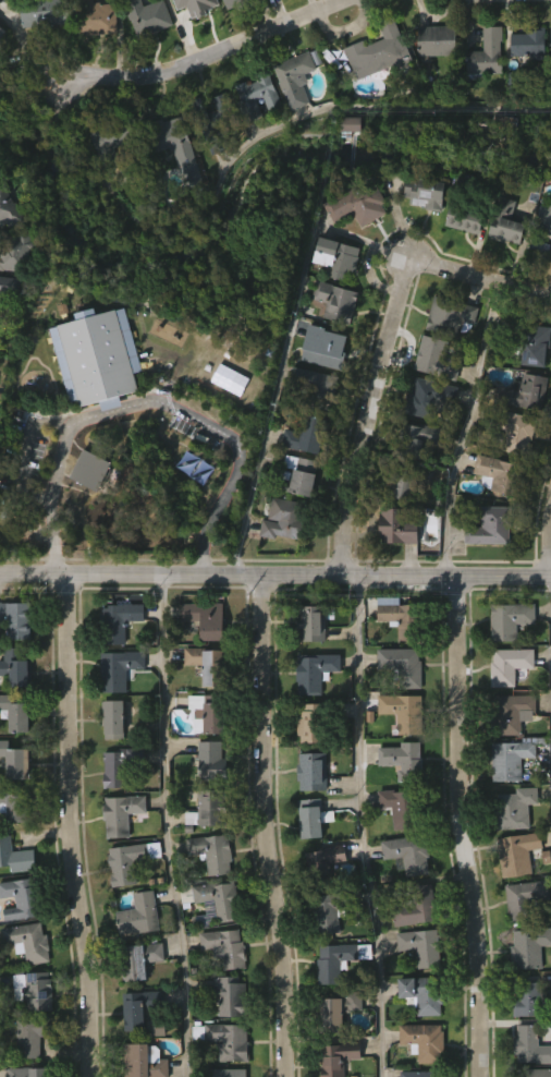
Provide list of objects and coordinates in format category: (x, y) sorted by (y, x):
building: (237, 2)
building: (305, 3)
building: (267, 11)
building: (44, 13)
building: (149, 16)
building: (98, 17)
building: (230, 25)
building: (184, 27)
building: (0, 33)
building: (439, 40)
building: (531, 44)
building: (36, 48)
building: (140, 49)
building: (379, 50)
building: (93, 52)
road: (212, 52)
building: (487, 55)
building: (0, 66)
building: (430, 76)
building: (548, 76)
building: (297, 77)
building: (523, 78)
building: (374, 87)
building: (480, 88)
building: (257, 96)
building: (290, 113)
building: (216, 120)
building: (353, 126)
building: (253, 132)
building: (114, 140)
building: (177, 147)
road: (240, 148)
building: (344, 159)
building: (163, 169)
building: (100, 173)
building: (427, 193)
building: (359, 205)
building: (9, 207)
building: (468, 217)
building: (547, 220)
building: (509, 223)
building: (418, 229)
building: (354, 240)
building: (17, 252)
building: (458, 254)
building: (541, 255)
building: (500, 256)
building: (340, 257)
road: (488, 270)
building: (9, 288)
building: (338, 302)
building: (453, 316)
building: (7, 320)
building: (330, 335)
building: (534, 343)
road: (285, 349)
building: (438, 359)
building: (315, 387)
building: (91, 392)
building: (524, 392)
building: (431, 399)
road: (151, 401)
road: (372, 407)
building: (307, 421)
road: (465, 423)
building: (516, 431)
building: (308, 436)
building: (420, 439)
road: (26, 453)
building: (298, 475)
building: (502, 475)
building: (409, 481)
building: (489, 508)
building: (285, 520)
building: (492, 527)
building: (399, 528)
building: (277, 554)
road: (549, 554)
road: (57, 558)
road: (204, 558)
building: (486, 561)
building: (390, 562)
road: (275, 571)
building: (208, 617)
building: (404, 618)
building: (14, 619)
building: (512, 620)
building: (120, 621)
building: (313, 622)
building: (112, 656)
building: (305, 658)
building: (209, 662)
building: (17, 664)
building: (404, 664)
building: (512, 664)
building: (121, 668)
building: (316, 669)
building: (309, 706)
building: (16, 711)
building: (405, 711)
building: (206, 712)
building: (512, 712)
building: (115, 718)
building: (314, 722)
building: (396, 748)
building: (108, 754)
building: (304, 758)
building: (514, 758)
building: (405, 759)
building: (17, 760)
building: (212, 760)
building: (122, 764)
building: (314, 771)
building: (206, 795)
building: (504, 795)
building: (113, 800)
building: (15, 803)
building: (404, 807)
building: (516, 809)
building: (314, 816)
road: (73, 824)
road: (174, 825)
road: (267, 825)
road: (463, 825)
road: (371, 826)
building: (391, 840)
building: (510, 843)
building: (115, 848)
building: (213, 852)
building: (307, 852)
building: (519, 852)
building: (409, 854)
building: (16, 856)
building: (131, 860)
building: (326, 861)
building: (207, 887)
building: (511, 887)
building: (402, 888)
building: (319, 895)
building: (123, 896)
building: (21, 898)
building: (219, 898)
building: (527, 899)
building: (418, 906)
building: (331, 910)
building: (140, 913)
building: (519, 932)
building: (29, 941)
building: (424, 946)
building: (226, 947)
building: (530, 947)
building: (140, 959)
building: (336, 960)
building: (23, 976)
building: (526, 980)
building: (35, 990)
building: (423, 993)
building: (134, 994)
building: (232, 995)
building: (329, 995)
building: (530, 1000)
building: (139, 1007)
building: (339, 1011)
building: (549, 1017)
building: (33, 1036)
building: (225, 1039)
building: (426, 1041)
building: (133, 1042)
building: (331, 1045)
building: (531, 1046)
road: (0, 1054)
building: (339, 1057)
building: (145, 1061)
building: (521, 1067)
building: (32, 1072)
building: (231, 1073)
building: (536, 1073)
building: (421, 1074)

